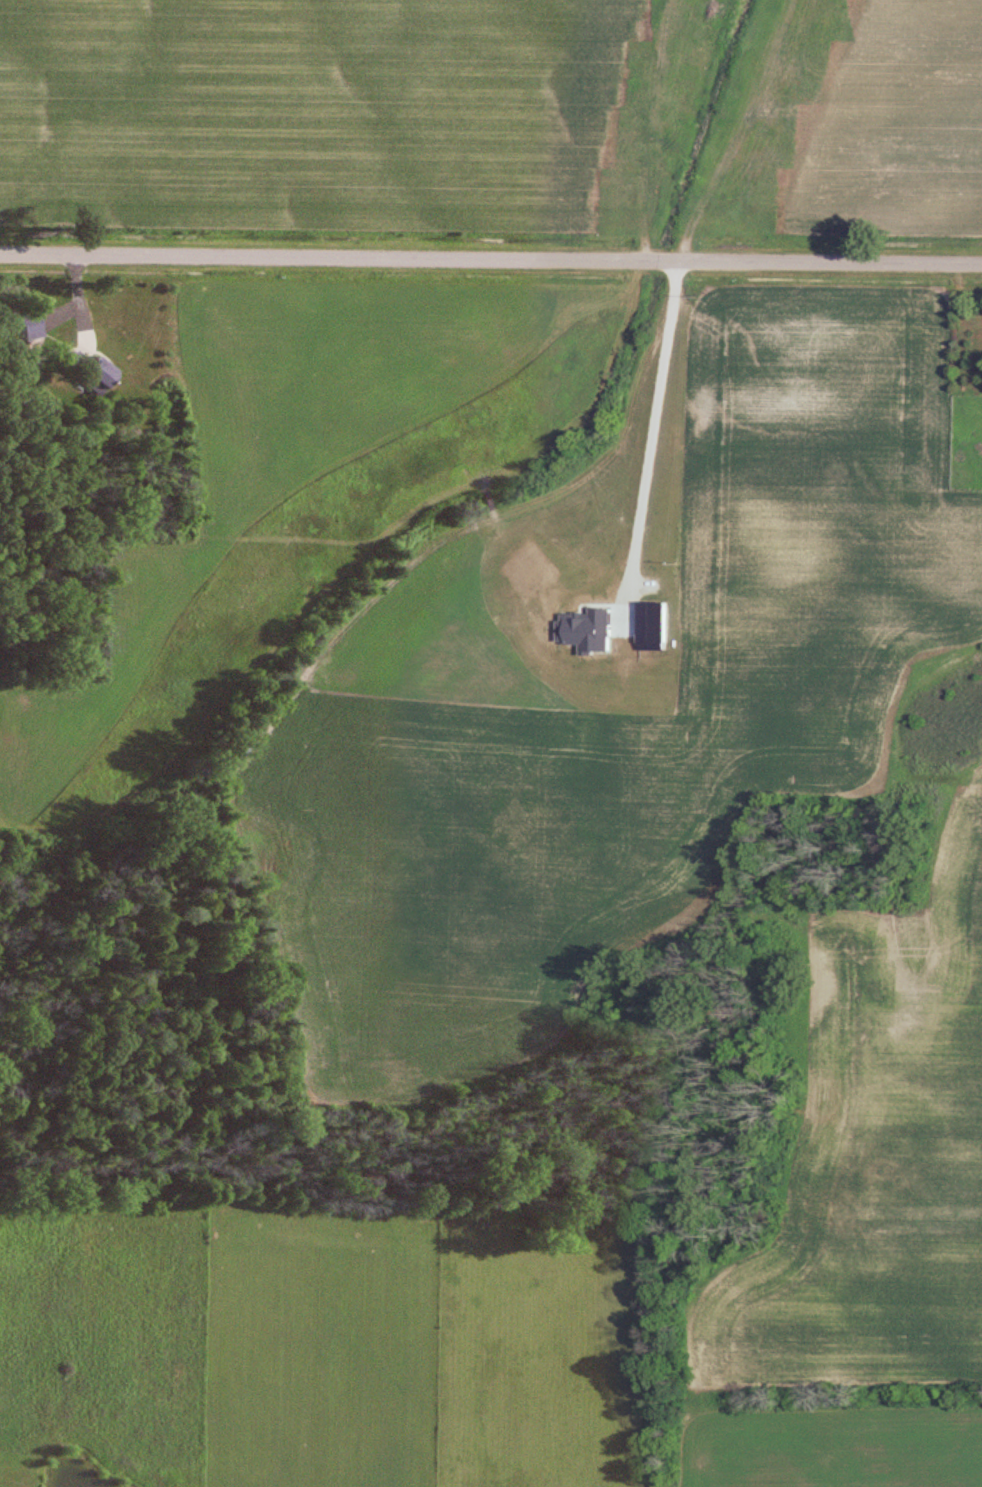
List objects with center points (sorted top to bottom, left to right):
road: (490, 261)
building: (87, 373)
road: (647, 419)

